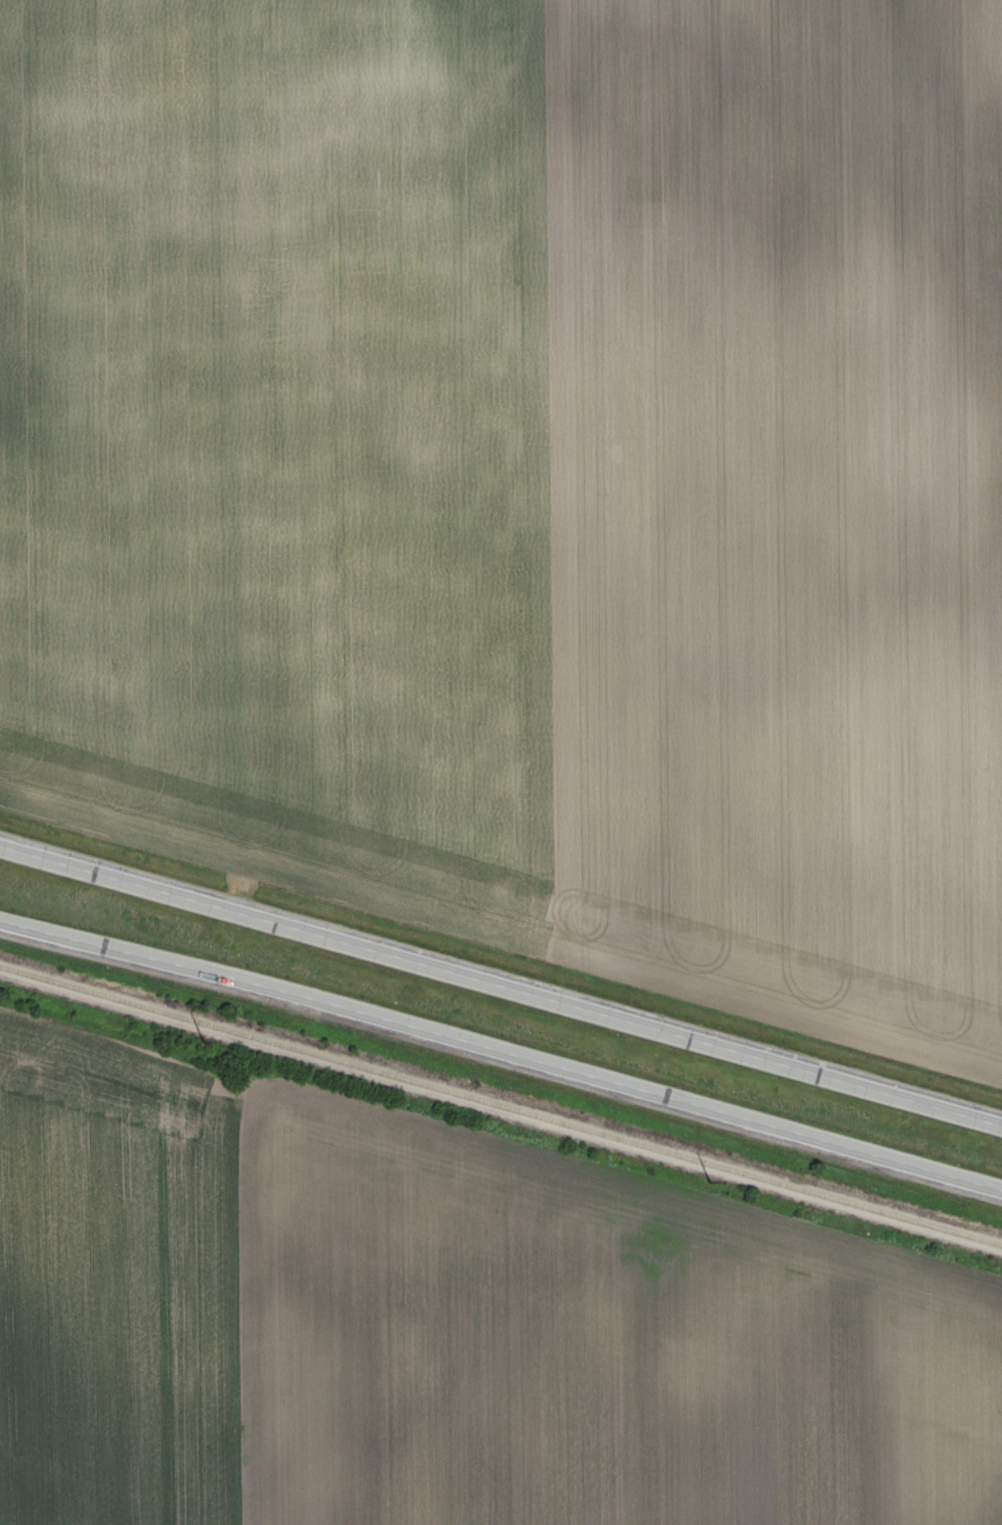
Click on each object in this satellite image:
road: (500, 985)
power tower: (202, 1043)
road: (501, 1048)
railway: (501, 1130)
power tower: (710, 1182)

